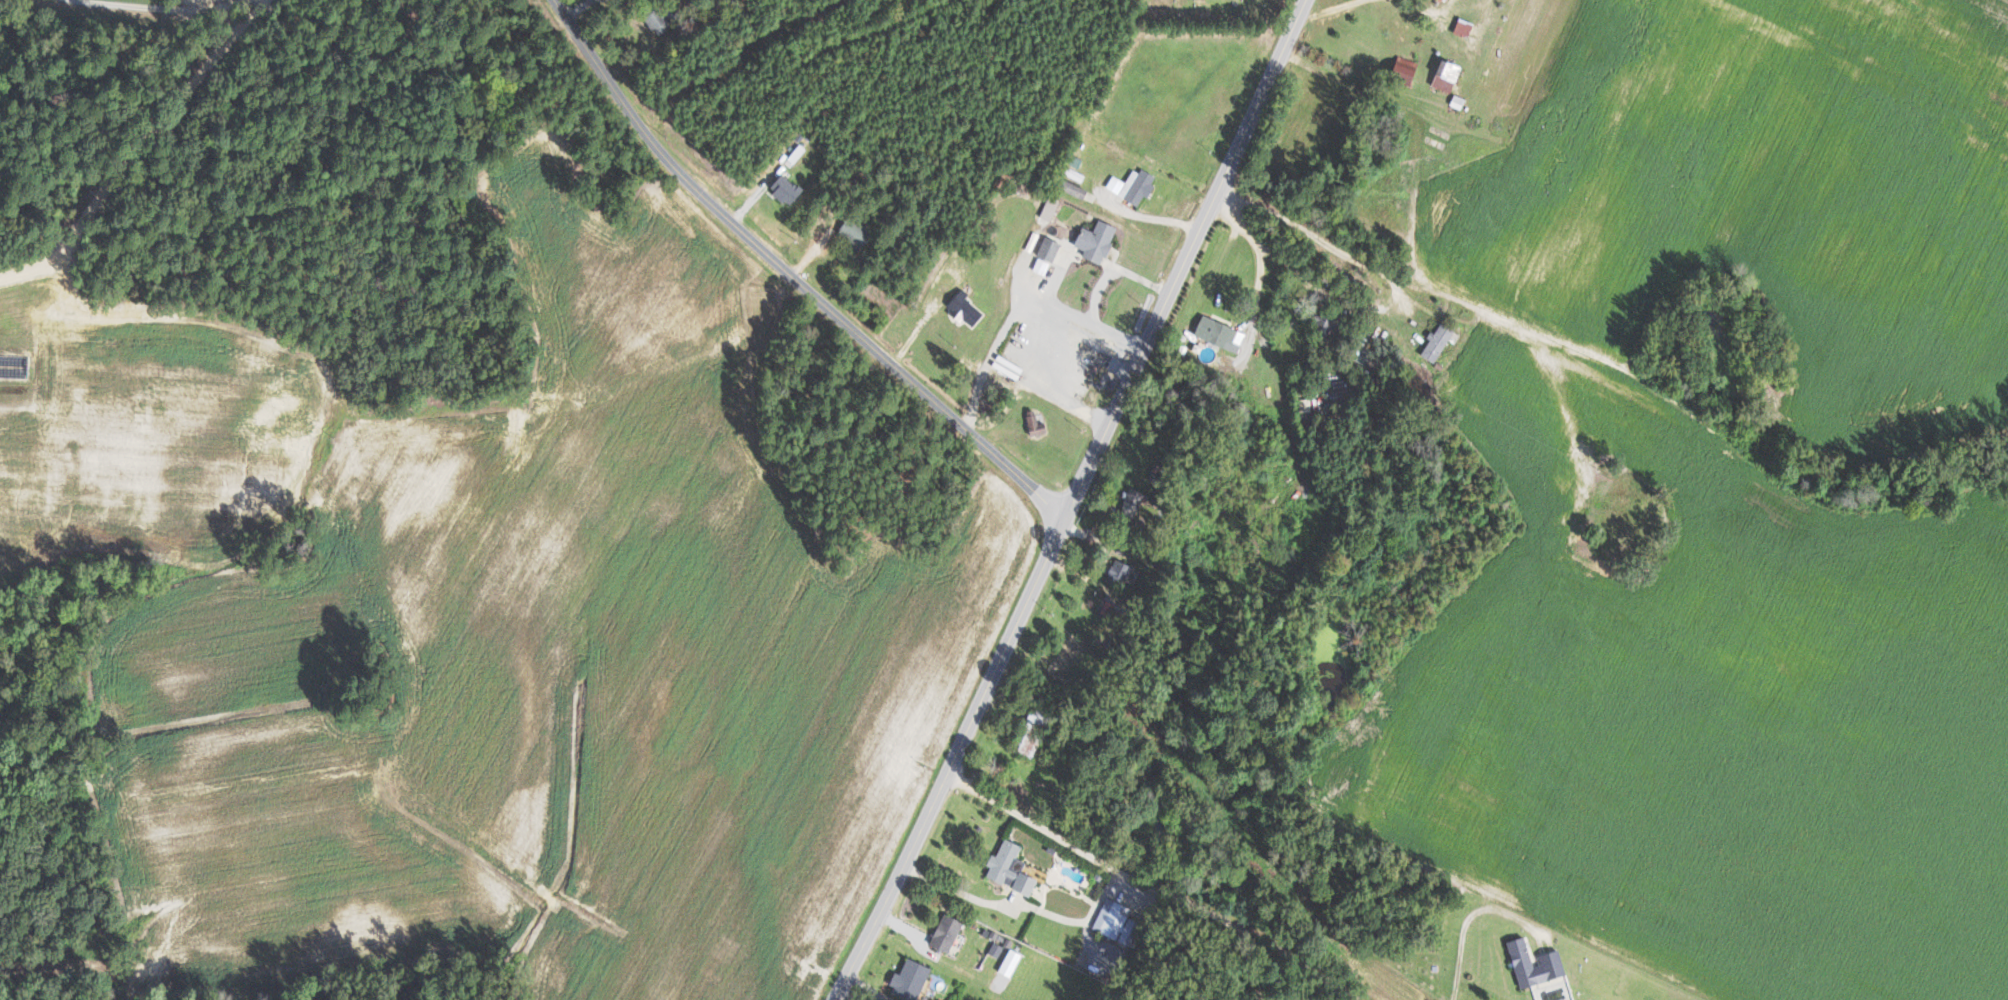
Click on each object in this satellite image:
road: (1413, 6)
road: (164, 7)
building: (660, 23)
building: (1460, 28)
building: (1398, 70)
building: (1443, 77)
road: (132, 149)
building: (1136, 185)
building: (789, 189)
building: (1051, 208)
road: (1145, 216)
building: (858, 233)
building: (1100, 240)
building: (1051, 248)
building: (1043, 265)
road: (1116, 270)
road: (788, 275)
road: (1377, 307)
building: (969, 309)
road: (1042, 332)
building: (1222, 332)
building: (1439, 341)
road: (1264, 343)
road: (1086, 349)
building: (1306, 405)
building: (1038, 424)
road: (1070, 500)
building: (1134, 502)
building: (1123, 573)
building: (1044, 718)
building: (1030, 745)
building: (1013, 868)
road: (1147, 888)
road: (1021, 906)
road: (1468, 919)
building: (1120, 922)
building: (950, 932)
building: (999, 943)
building: (1554, 959)
building: (1012, 962)
road: (1252, 962)
building: (913, 980)

